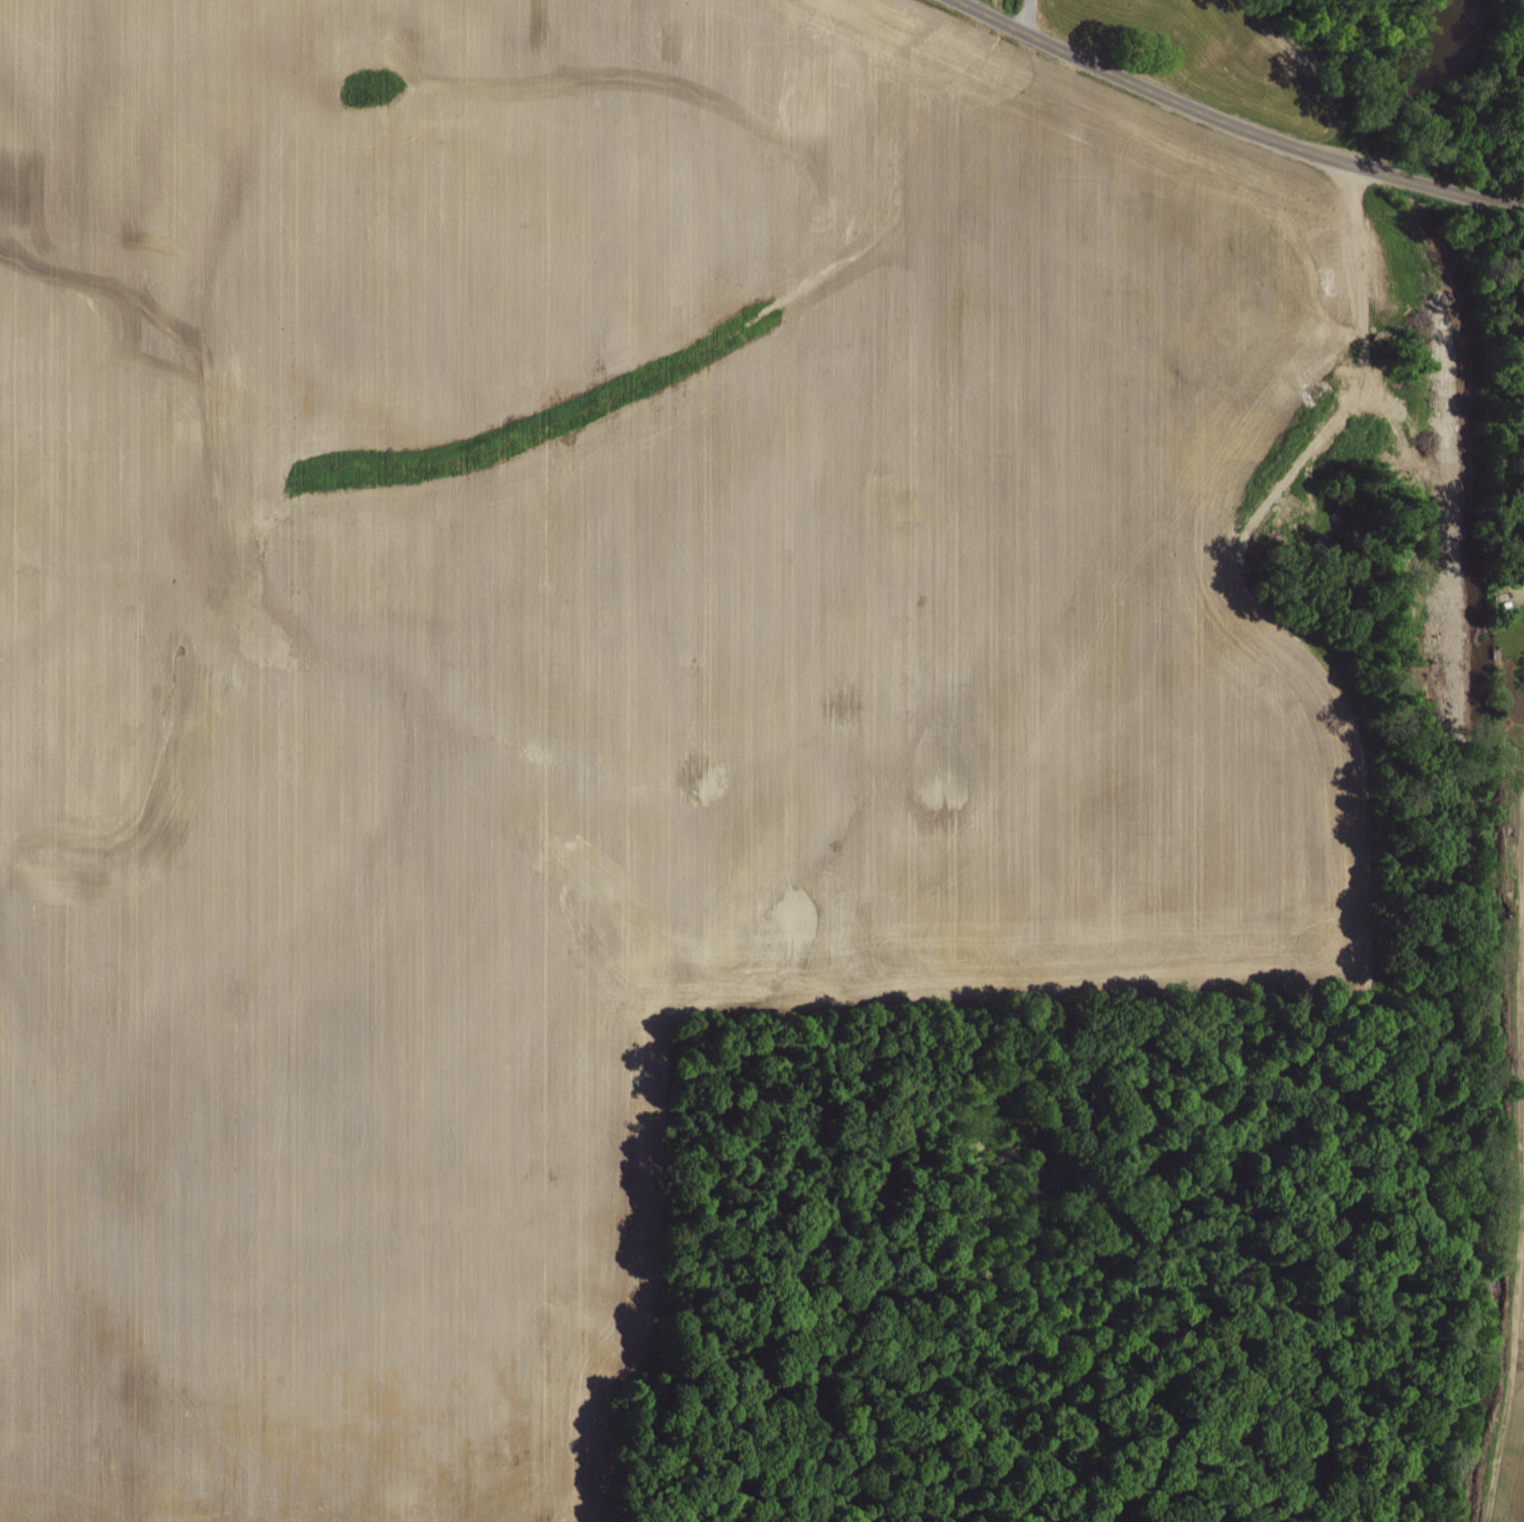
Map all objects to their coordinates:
road: (1234, 123)

